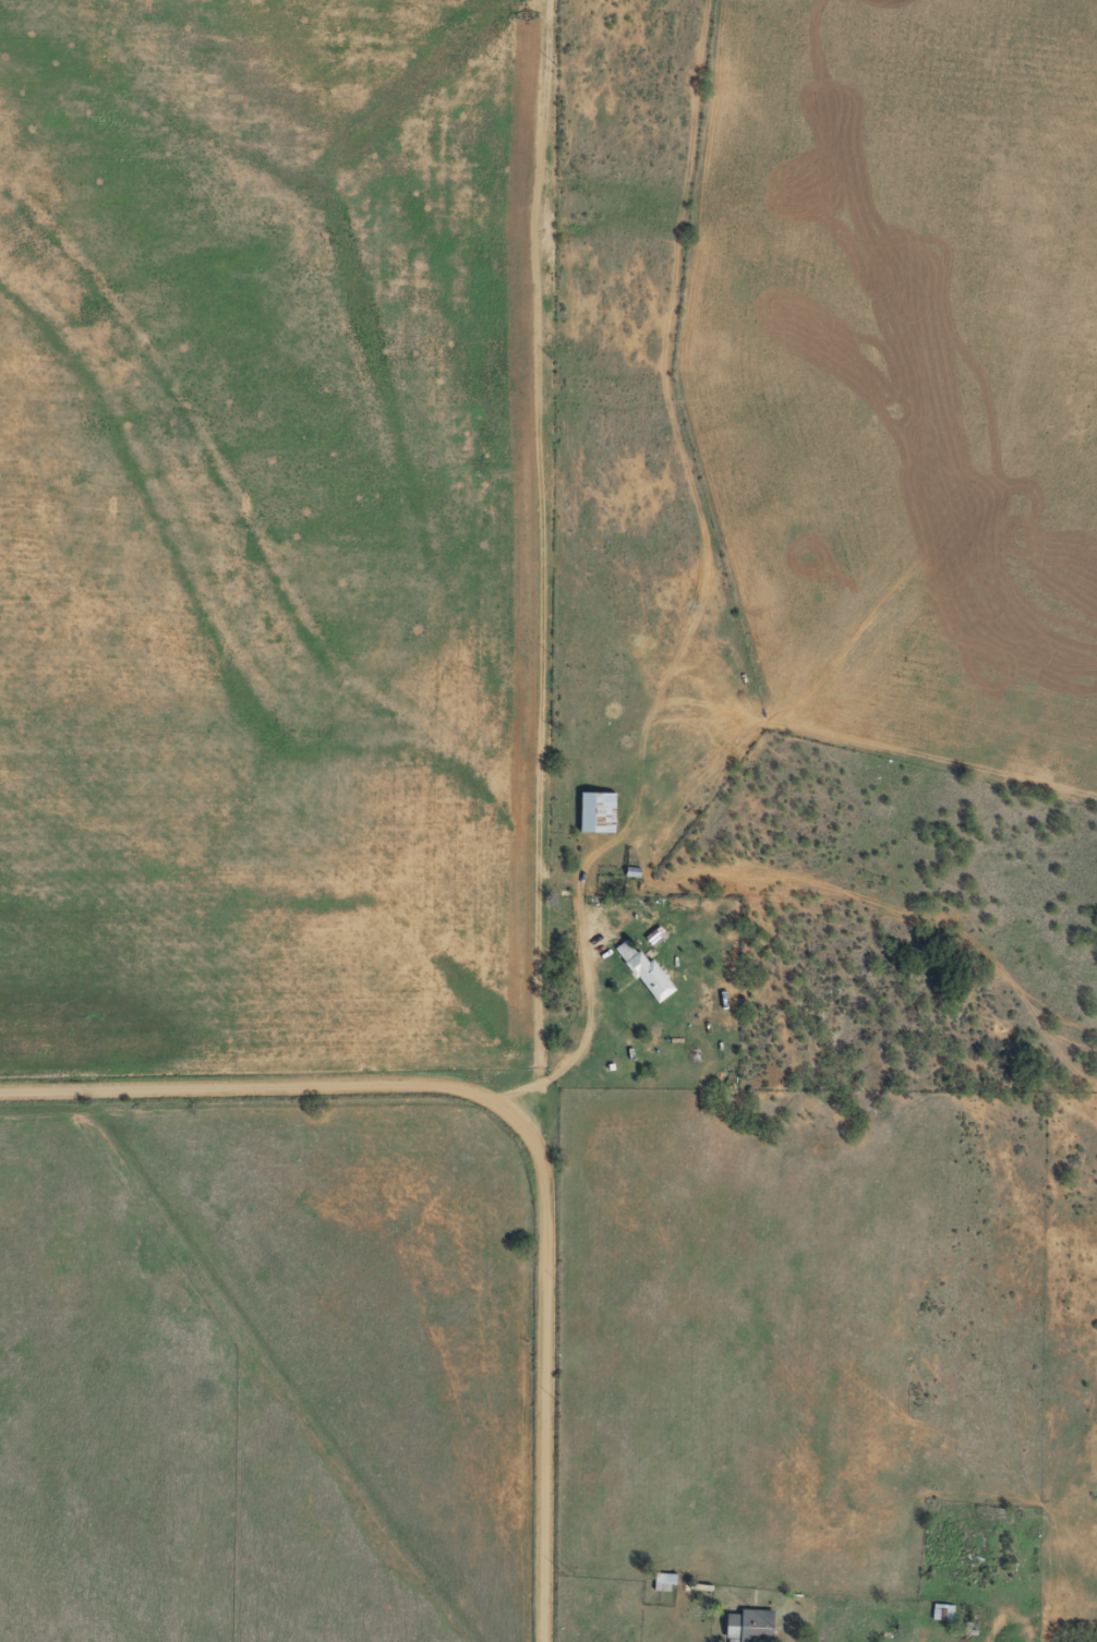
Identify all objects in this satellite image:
road: (559, 567)
building: (599, 811)
building: (644, 969)
road: (520, 1119)
building: (665, 1580)
building: (752, 1625)

